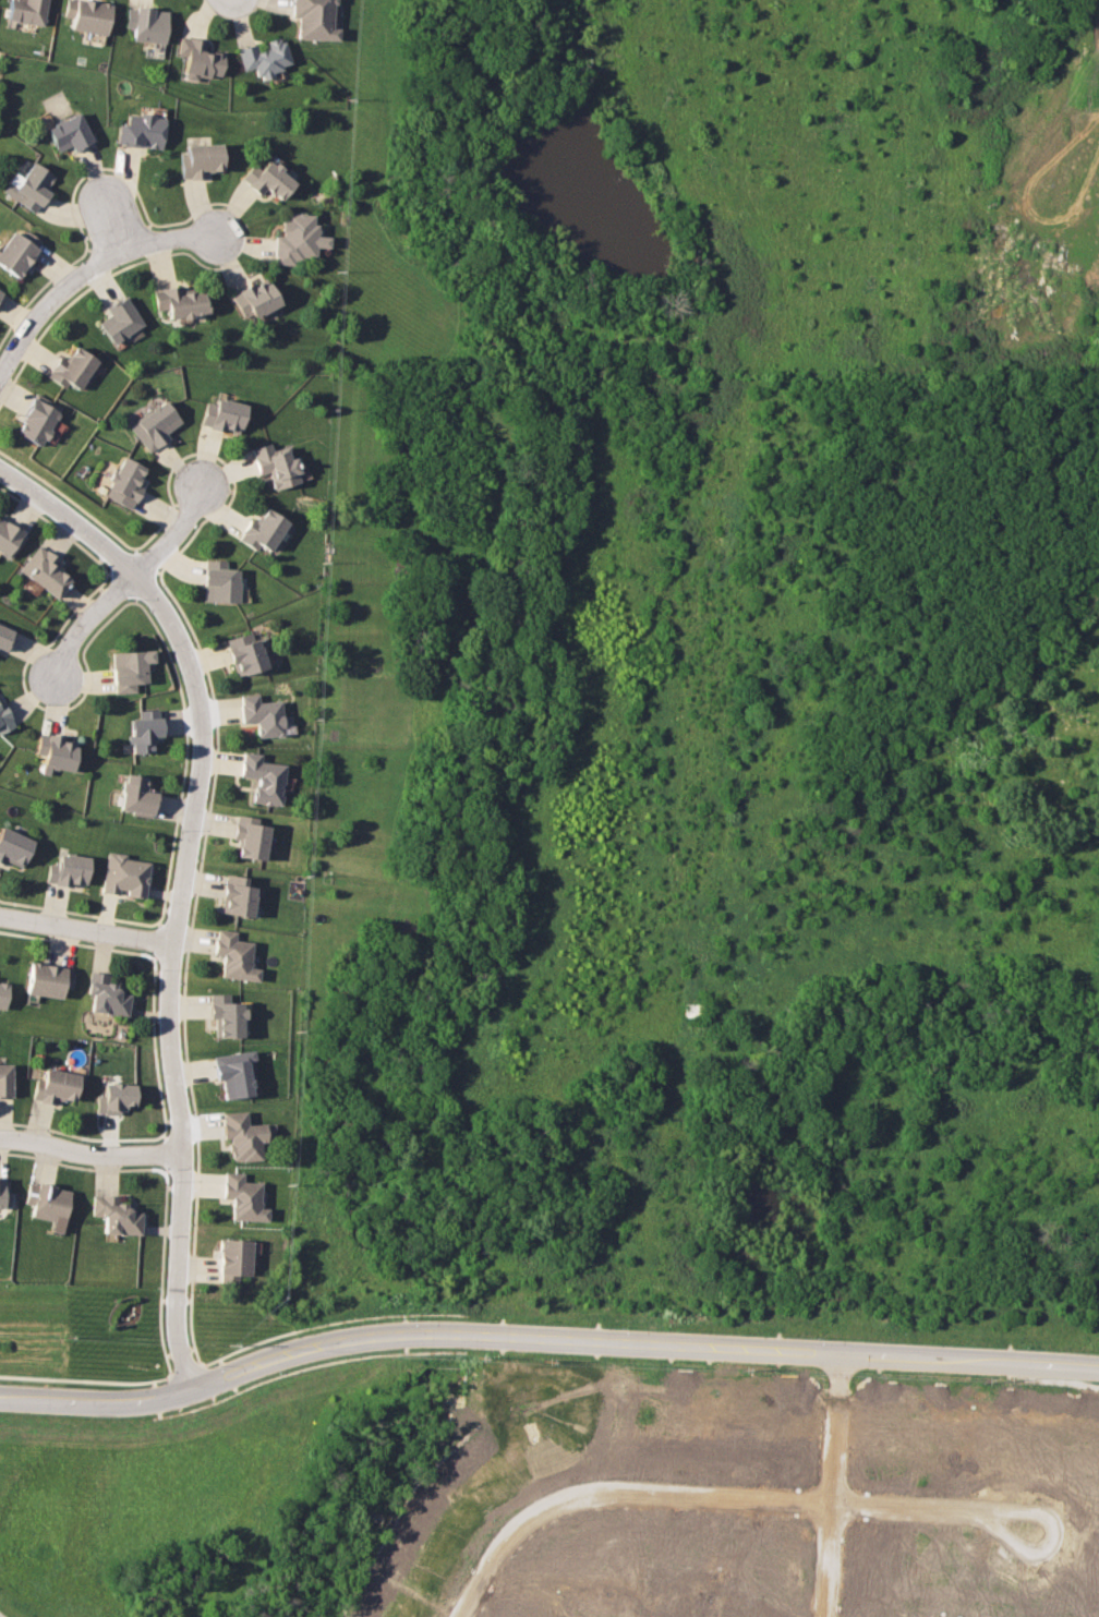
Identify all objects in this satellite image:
building: (27, 11)
building: (87, 15)
building: (314, 19)
building: (146, 24)
building: (265, 57)
building: (200, 58)
building: (141, 130)
building: (69, 132)
building: (201, 159)
building: (268, 179)
building: (29, 186)
road: (112, 217)
building: (298, 239)
building: (17, 251)
road: (89, 266)
building: (0, 292)
building: (255, 299)
building: (179, 301)
building: (120, 319)
building: (72, 367)
building: (222, 414)
building: (37, 419)
building: (155, 424)
building: (276, 464)
building: (125, 482)
building: (262, 530)
road: (171, 535)
building: (9, 539)
building: (45, 570)
building: (219, 581)
road: (83, 629)
building: (4, 636)
building: (245, 653)
building: (129, 668)
building: (262, 714)
building: (4, 719)
building: (144, 731)
building: (56, 751)
building: (263, 777)
building: (136, 795)
building: (250, 836)
building: (13, 846)
building: (68, 869)
building: (124, 874)
road: (180, 888)
building: (237, 895)
road: (86, 929)
building: (233, 955)
building: (48, 979)
building: (3, 992)
building: (107, 994)
building: (225, 1015)
building: (232, 1073)
building: (5, 1079)
building: (56, 1086)
building: (116, 1098)
building: (242, 1136)
road: (89, 1150)
building: (3, 1192)
building: (243, 1197)
building: (48, 1203)
building: (117, 1215)
building: (233, 1259)
road: (640, 1340)
road: (96, 1401)
road: (829, 1472)
road: (615, 1500)
road: (998, 1517)

